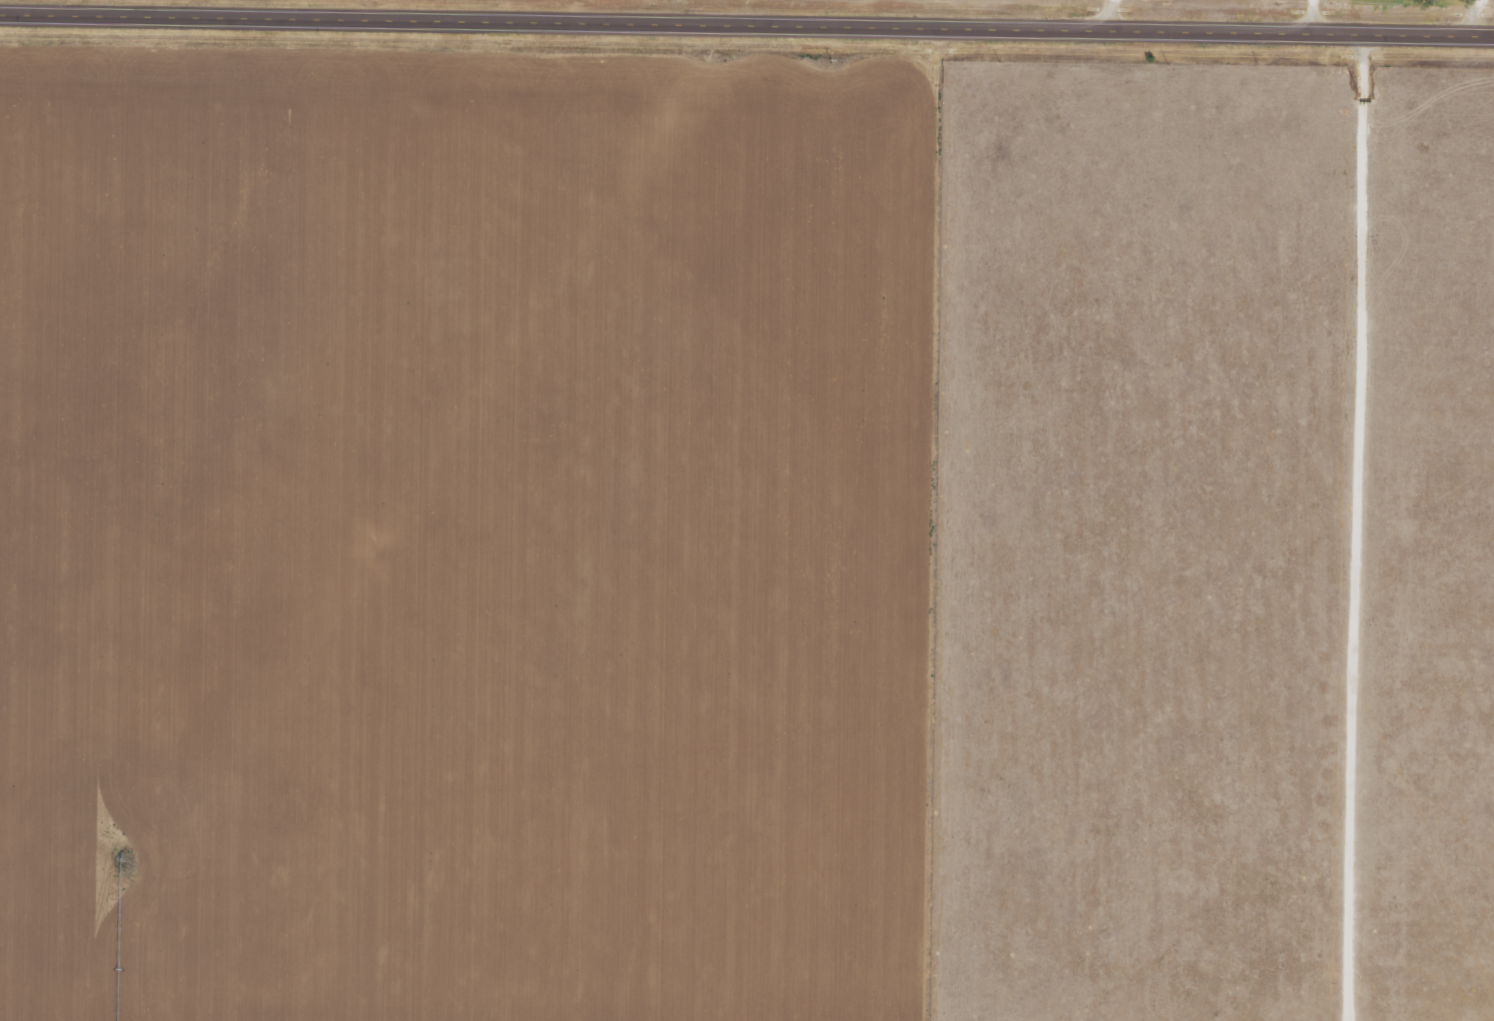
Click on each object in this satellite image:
road: (746, 27)
road: (1358, 528)

